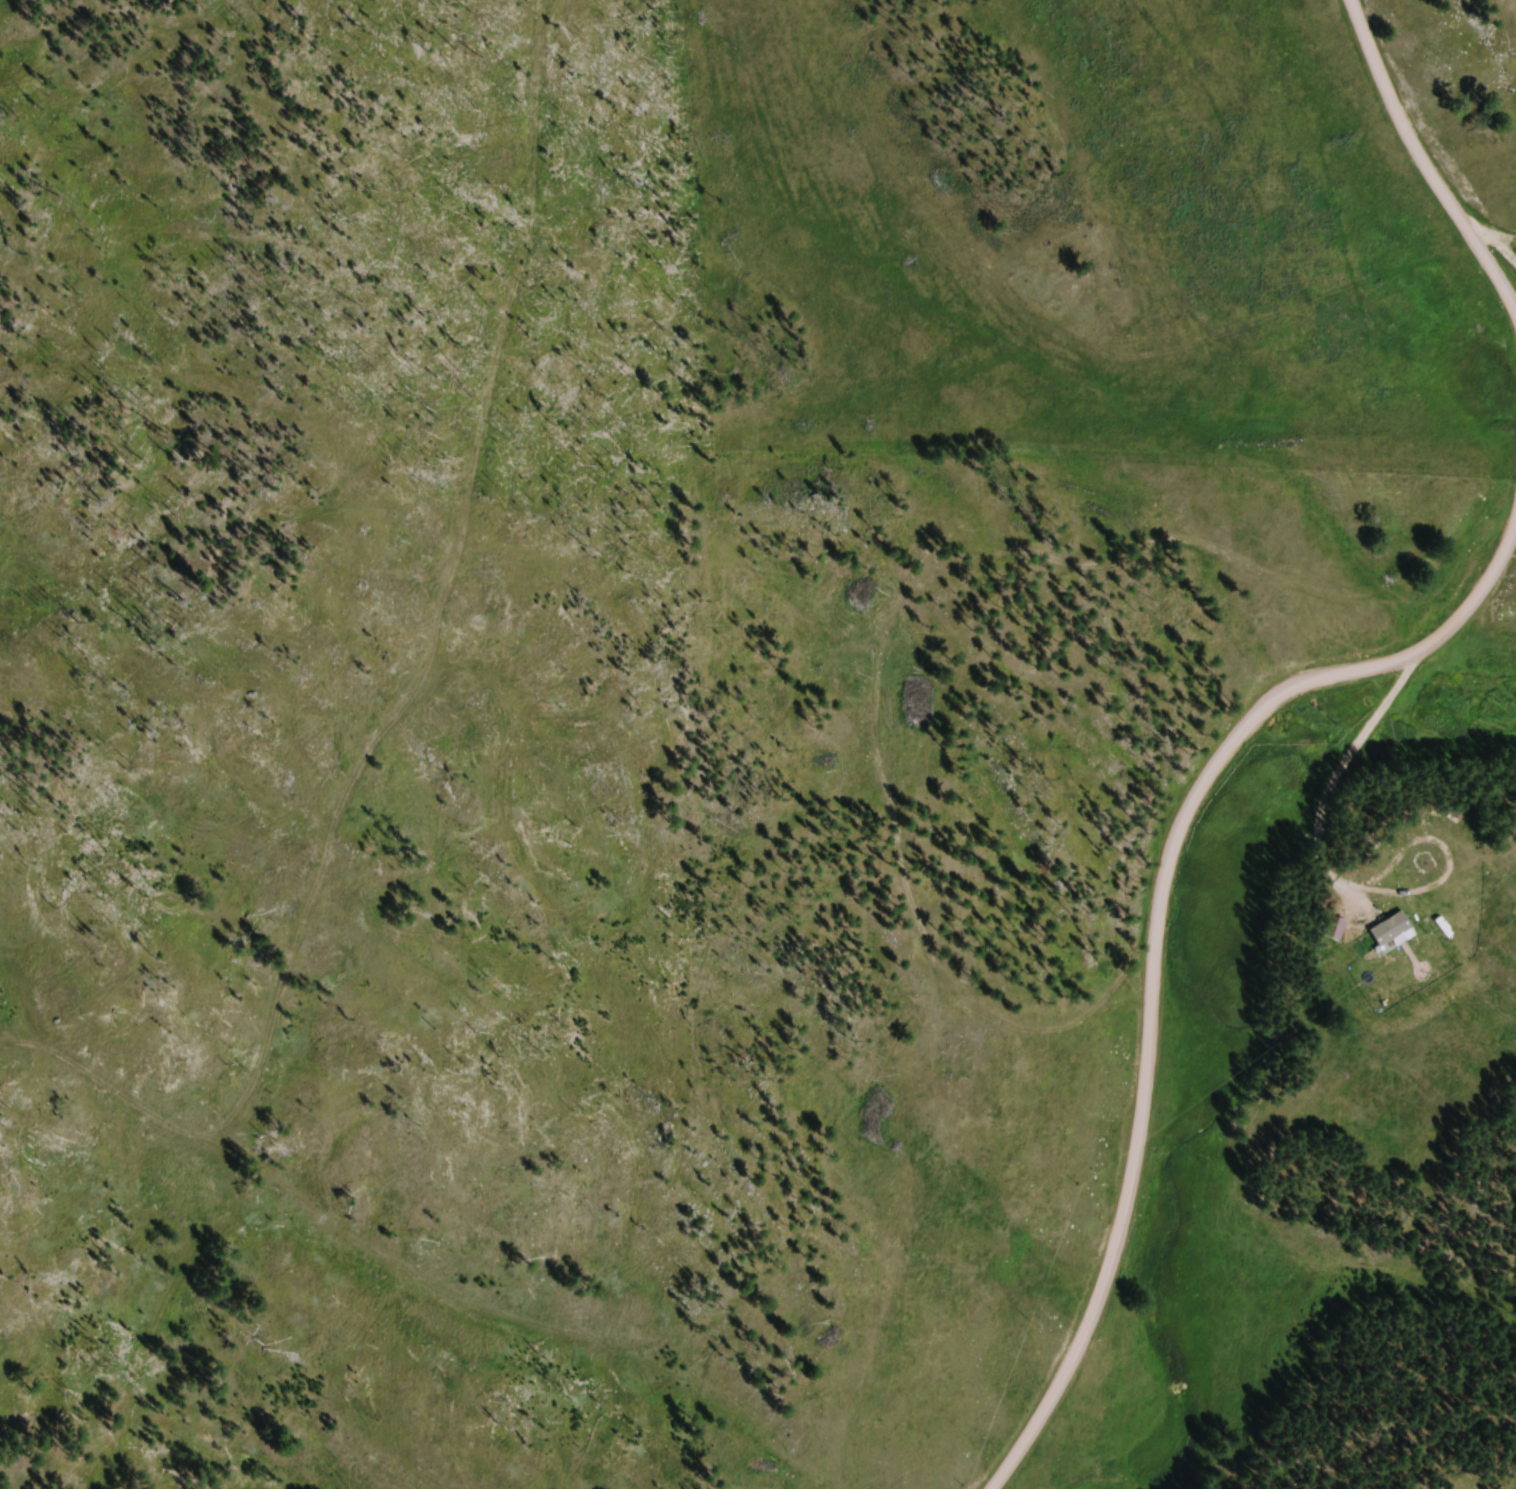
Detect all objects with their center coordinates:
road: (1381, 98)
road: (1473, 264)
road: (1150, 919)
building: (1366, 955)

